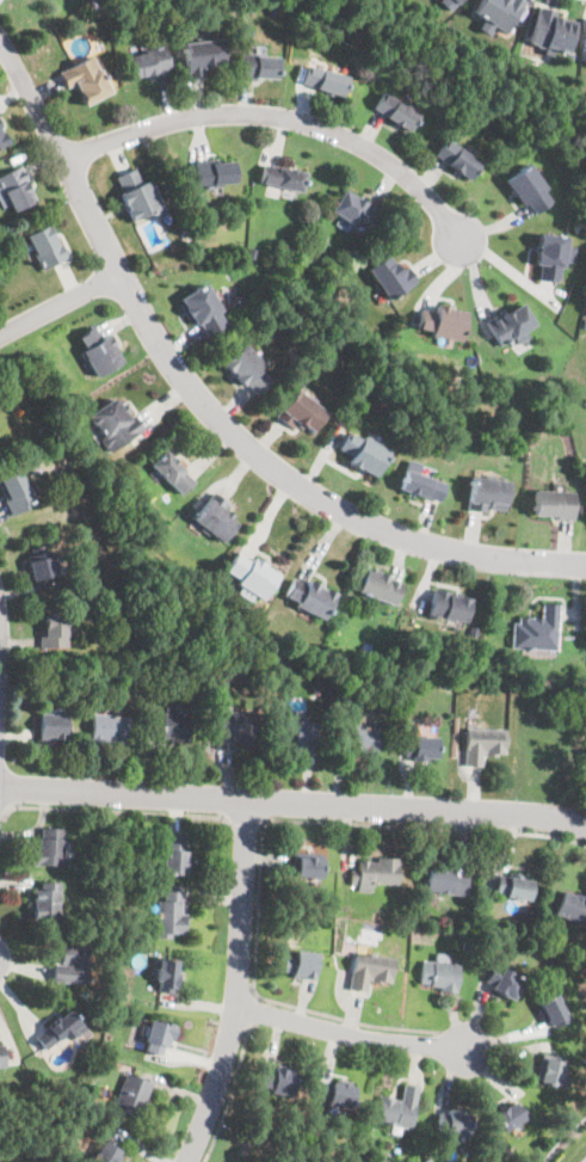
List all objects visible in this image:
building: (450, 4)
building: (498, 14)
building: (550, 31)
building: (202, 56)
building: (150, 63)
building: (257, 67)
building: (85, 80)
building: (325, 80)
building: (396, 112)
road: (277, 118)
building: (2, 140)
road: (60, 156)
building: (457, 160)
building: (215, 174)
building: (283, 179)
building: (529, 189)
building: (14, 190)
building: (135, 196)
building: (356, 211)
building: (45, 247)
building: (553, 257)
building: (391, 278)
road: (61, 306)
building: (202, 311)
building: (443, 322)
building: (585, 324)
building: (511, 326)
building: (98, 351)
building: (247, 370)
building: (557, 393)
building: (301, 412)
building: (115, 425)
building: (44, 428)
building: (364, 454)
building: (172, 473)
building: (422, 486)
road: (309, 491)
building: (16, 492)
building: (488, 494)
building: (554, 504)
building: (215, 518)
building: (43, 564)
building: (252, 577)
building: (378, 588)
building: (310, 598)
building: (449, 607)
building: (537, 631)
building: (54, 632)
building: (315, 689)
building: (397, 690)
building: (295, 711)
building: (54, 726)
building: (171, 726)
building: (110, 728)
building: (234, 730)
building: (300, 736)
building: (359, 739)
building: (483, 745)
building: (420, 748)
road: (294, 803)
road: (4, 810)
road: (119, 812)
road: (247, 824)
road: (263, 842)
building: (51, 849)
building: (175, 855)
building: (307, 867)
building: (374, 874)
building: (445, 883)
building: (513, 887)
building: (48, 904)
building: (573, 908)
building: (169, 915)
building: (128, 930)
building: (467, 945)
building: (73, 965)
building: (300, 965)
building: (370, 971)
building: (167, 976)
building: (440, 976)
building: (505, 982)
road: (238, 985)
road: (253, 1010)
building: (553, 1012)
building: (58, 1031)
road: (348, 1035)
building: (158, 1037)
building: (2, 1057)
building: (550, 1072)
building: (278, 1080)
building: (337, 1094)
building: (132, 1095)
road: (230, 1095)
building: (397, 1108)
building: (510, 1117)
building: (454, 1124)
building: (107, 1152)
building: (38, 1154)
building: (428, 1160)

